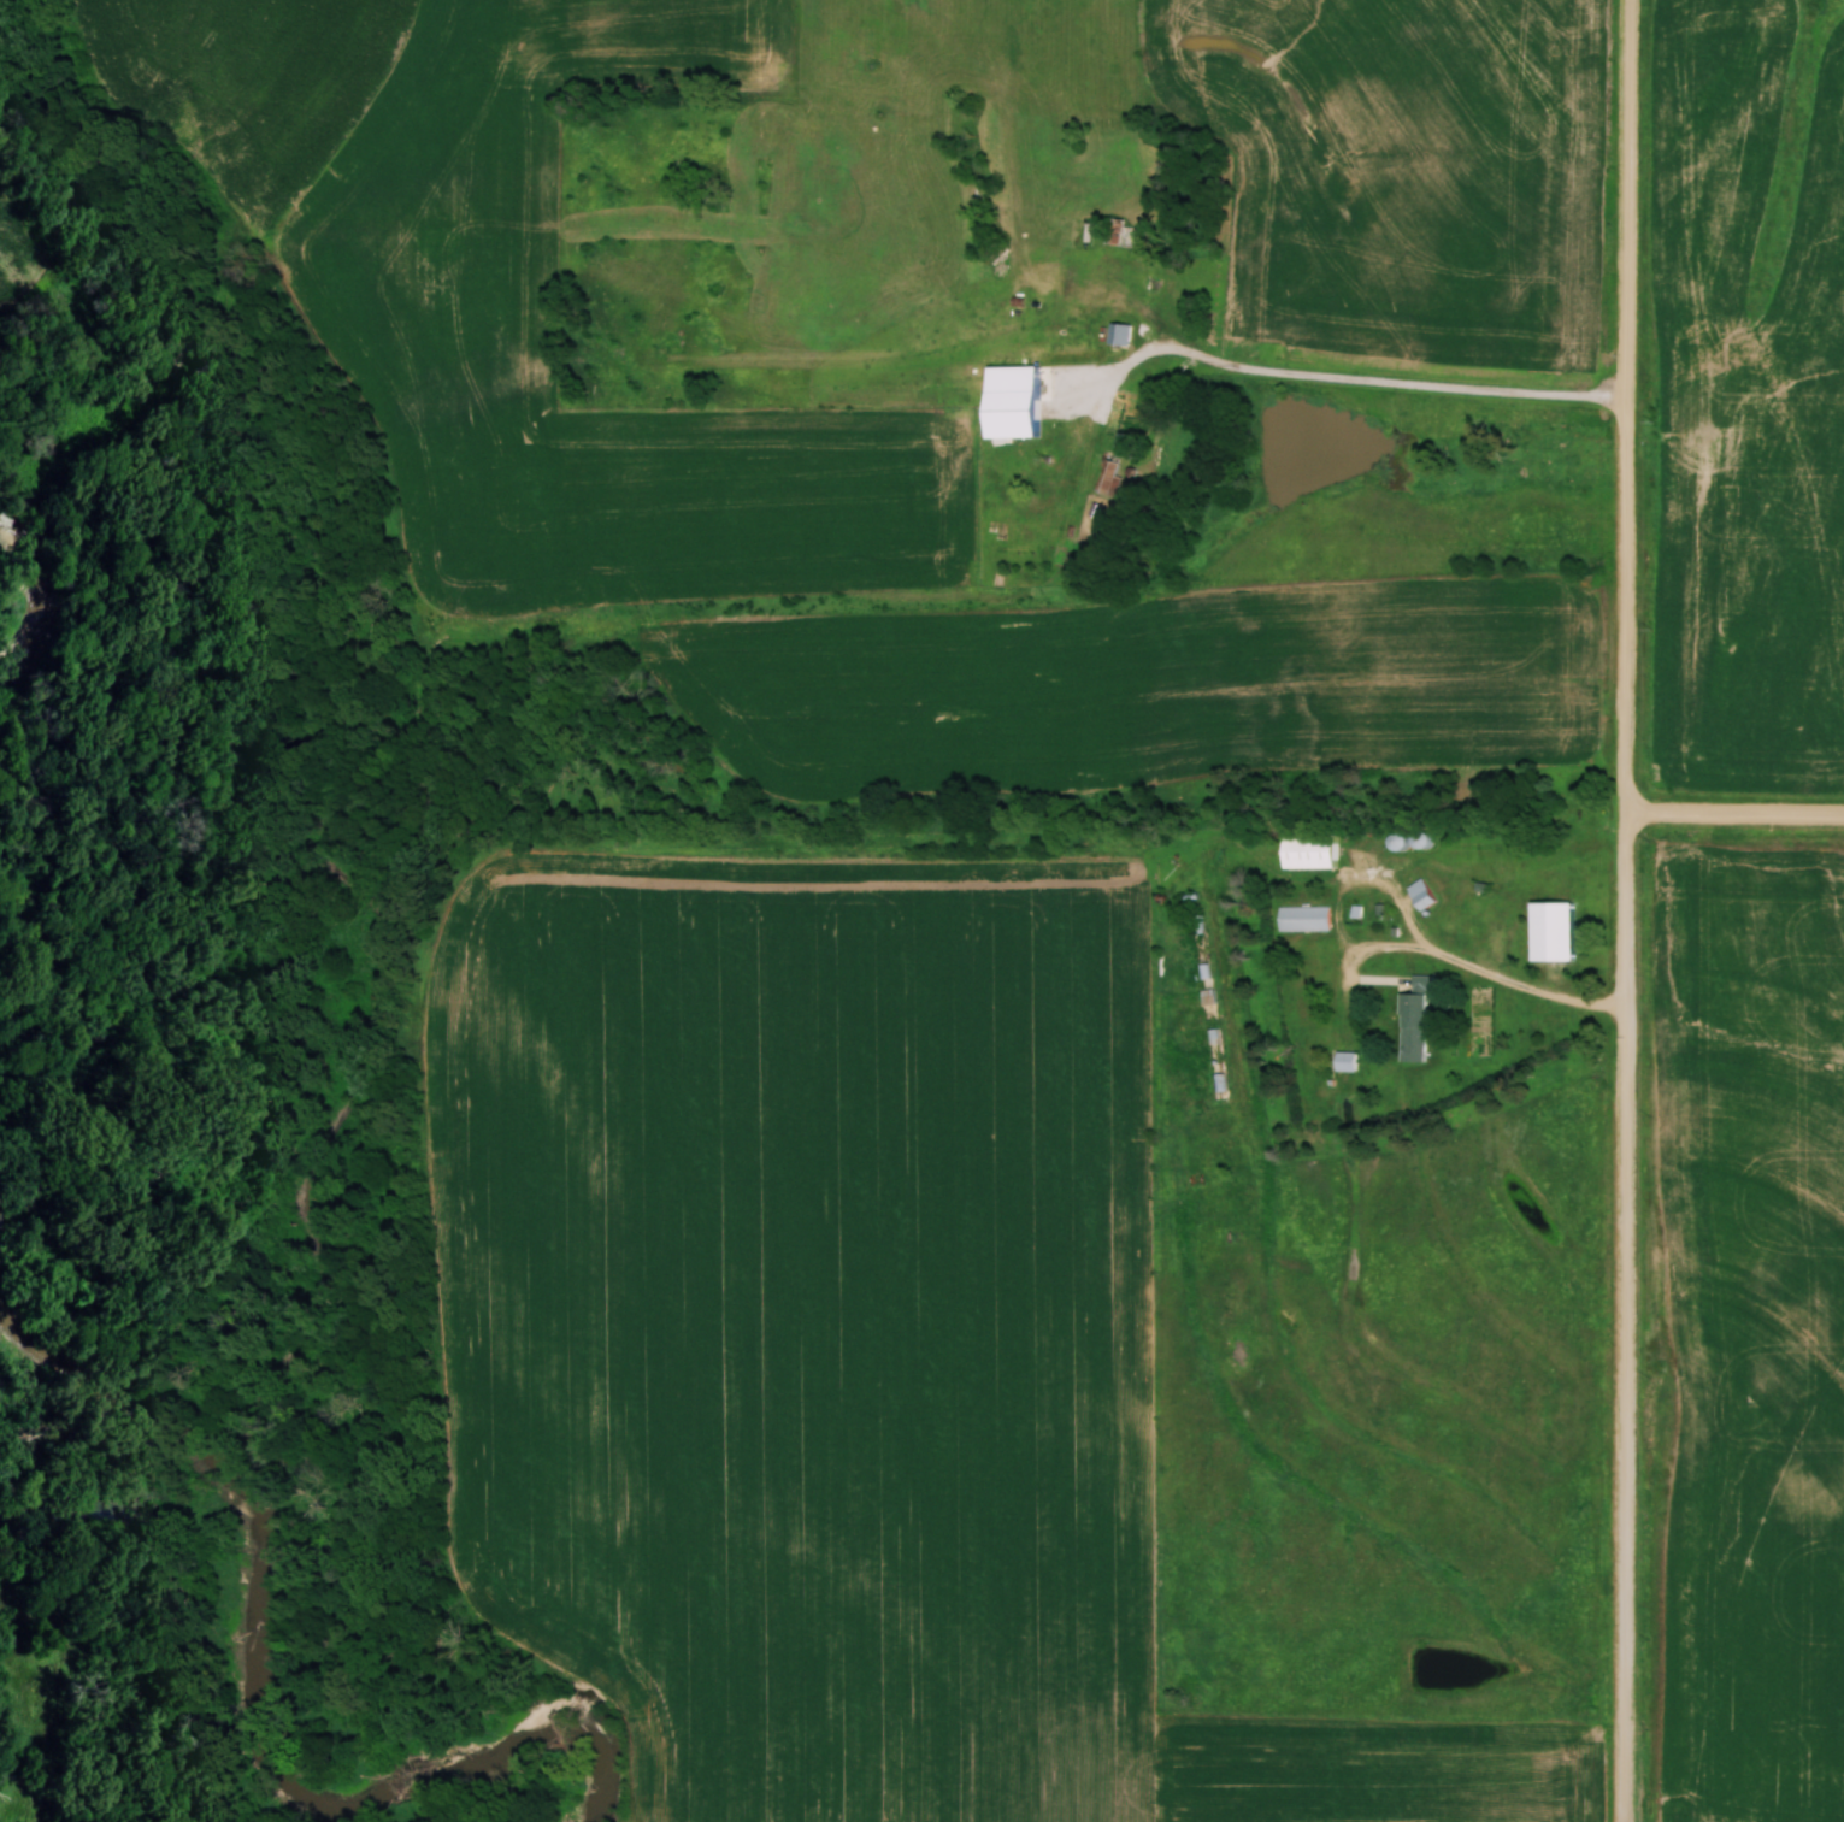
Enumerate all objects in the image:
building: (1119, 234)
building: (1119, 334)
building: (1049, 355)
road: (1409, 385)
building: (1127, 441)
building: (1107, 477)
road: (1736, 813)
building: (1398, 841)
building: (1309, 850)
building: (1421, 894)
road: (1627, 910)
building: (1302, 918)
building: (1554, 931)
road: (1345, 943)
road: (1524, 989)
building: (1207, 997)
building: (1415, 1003)
building: (1345, 1061)

